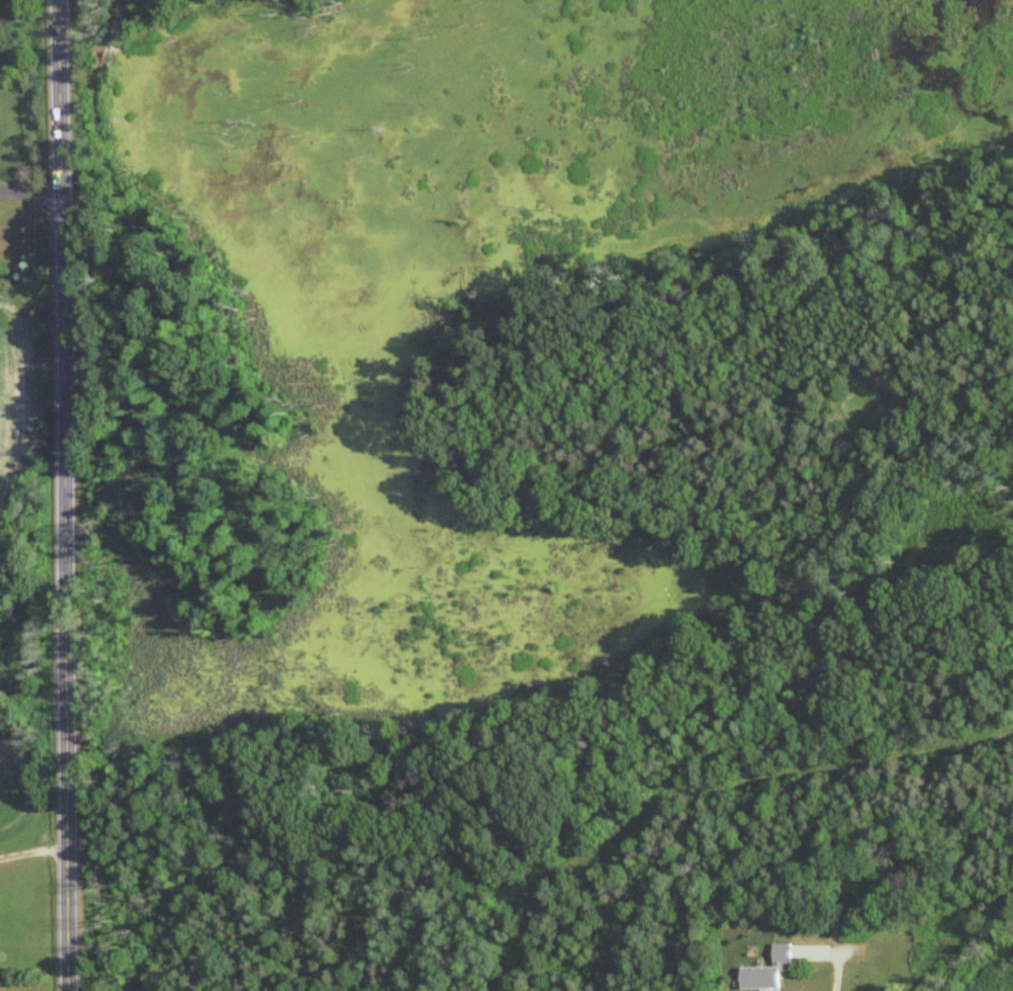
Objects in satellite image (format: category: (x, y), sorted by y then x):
road: (30, 197)
road: (64, 495)
road: (838, 958)
building: (769, 971)

